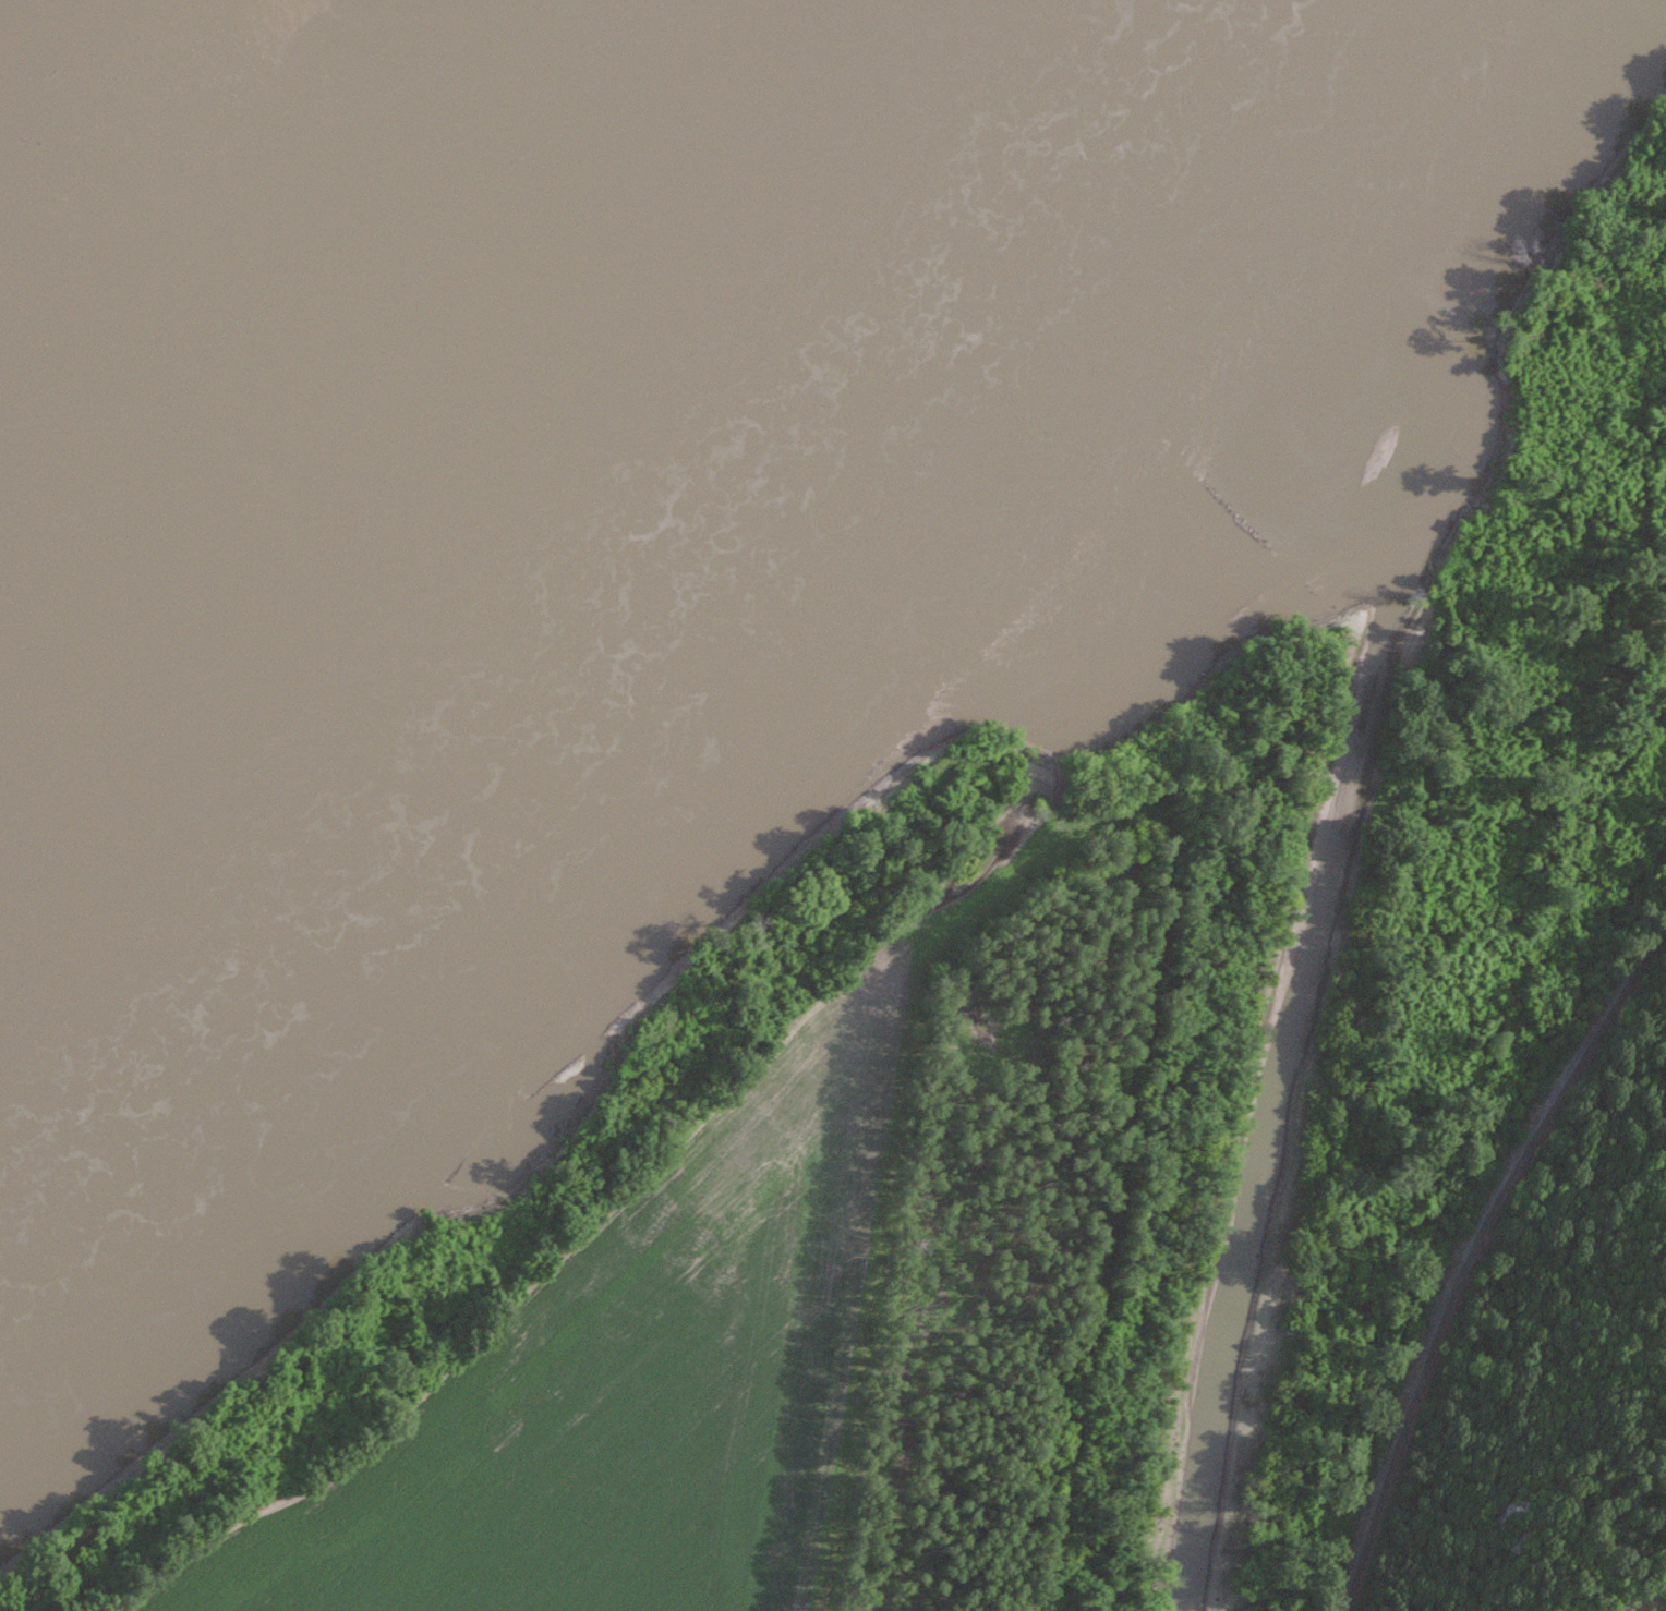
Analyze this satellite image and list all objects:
river: (475, 590)
railway: (1471, 1252)
crop: (640, 1335)
road: (1581, 1588)

